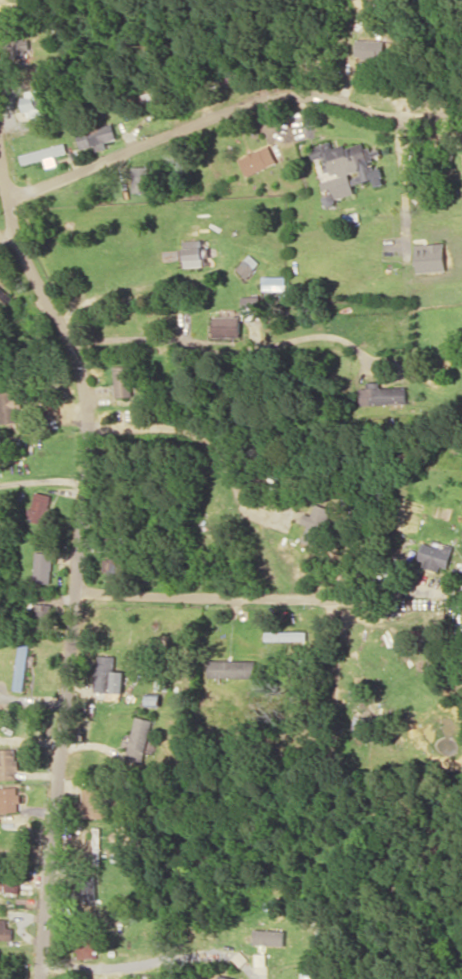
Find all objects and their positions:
building: (369, 48)
building: (149, 97)
building: (32, 102)
road: (214, 113)
building: (96, 136)
building: (42, 153)
building: (258, 159)
building: (49, 161)
building: (348, 161)
building: (140, 178)
building: (194, 253)
building: (430, 256)
building: (248, 265)
building: (274, 282)
building: (250, 307)
building: (227, 326)
road: (221, 344)
building: (123, 380)
building: (382, 394)
building: (9, 406)
building: (39, 506)
building: (315, 525)
building: (434, 554)
road: (73, 559)
building: (111, 565)
building: (42, 567)
building: (42, 615)
building: (288, 634)
building: (20, 666)
building: (232, 668)
building: (108, 677)
building: (140, 739)
building: (8, 763)
building: (9, 799)
building: (9, 881)
building: (4, 928)
building: (269, 936)
building: (305, 975)
building: (223, 977)
road: (262, 977)

